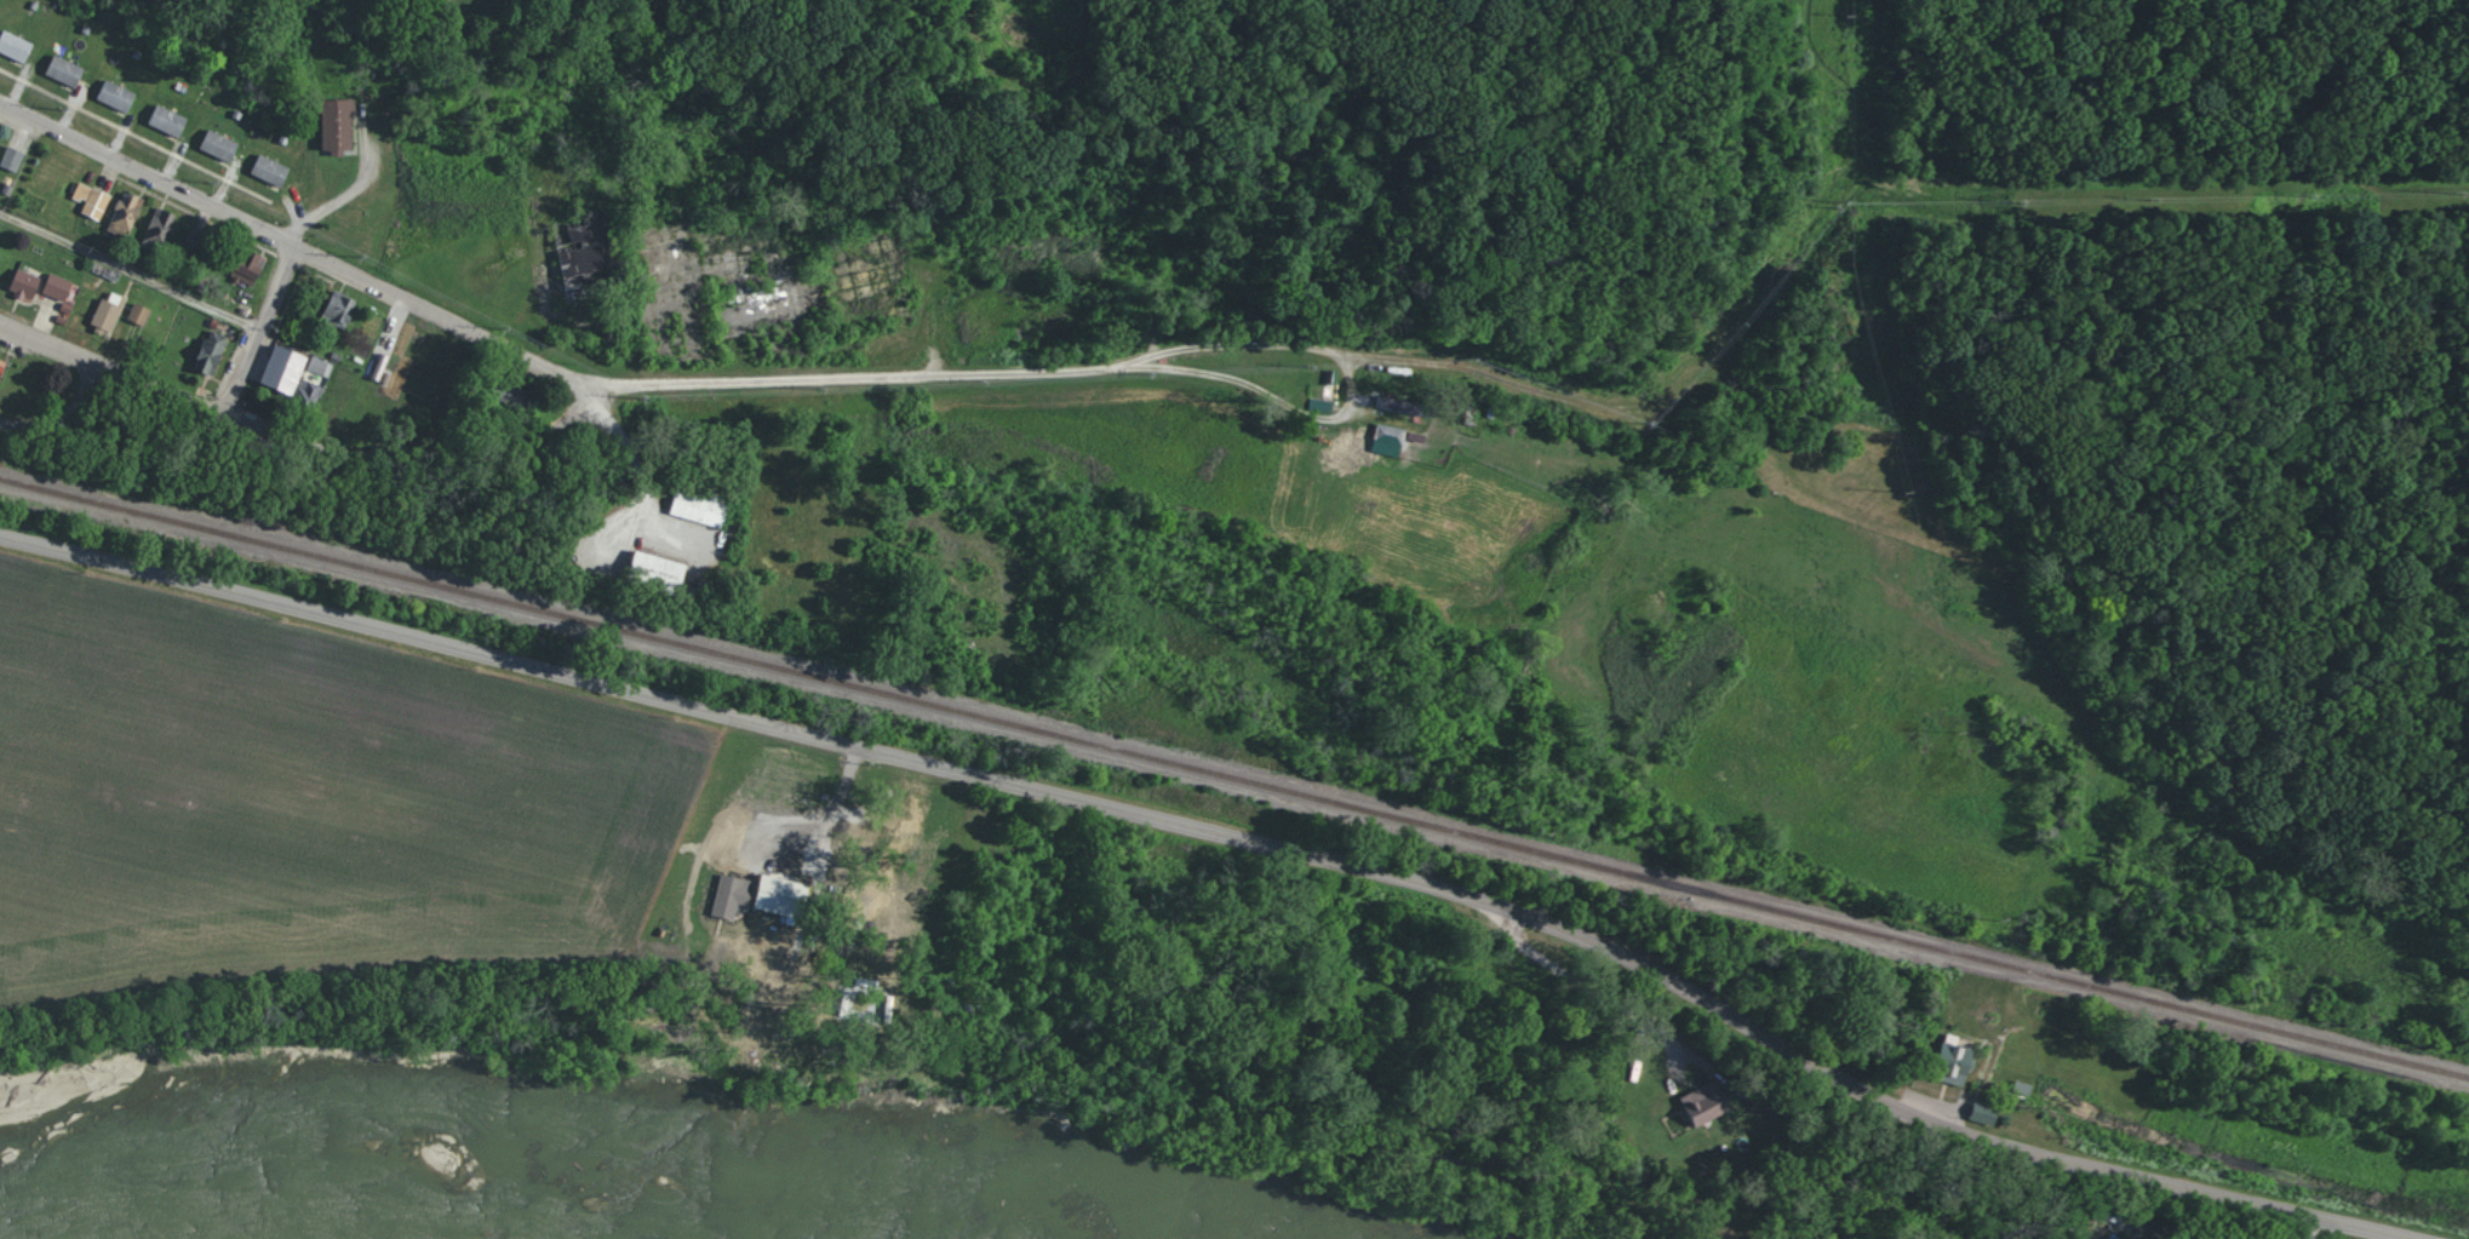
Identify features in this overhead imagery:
building: (18, 51)
building: (74, 74)
building: (124, 98)
road: (2354, 103)
road: (1972, 114)
building: (171, 121)
building: (328, 125)
building: (345, 128)
road: (1743, 132)
building: (225, 149)
building: (1, 151)
building: (17, 159)
building: (273, 173)
building: (96, 203)
building: (120, 212)
building: (134, 222)
building: (155, 225)
building: (167, 237)
building: (584, 247)
road: (1805, 262)
building: (237, 266)
road: (2228, 270)
building: (251, 281)
road: (1950, 283)
building: (31, 285)
building: (68, 291)
road: (126, 291)
building: (107, 312)
building: (139, 314)
building: (337, 320)
building: (118, 321)
park: (2047, 332)
road: (1244, 342)
road: (252, 349)
building: (216, 358)
building: (317, 366)
road: (1225, 375)
building: (12, 379)
road: (516, 380)
building: (299, 383)
building: (515, 395)
road: (1747, 403)
road: (41, 406)
building: (1411, 408)
building: (1390, 441)
road: (294, 460)
building: (712, 510)
building: (672, 579)
railway: (1234, 776)
road: (1195, 826)
building: (783, 895)
road: (1593, 991)
building: (1969, 1060)
building: (1938, 1062)
building: (2016, 1088)
building: (1714, 1106)
river: (623, 1215)

